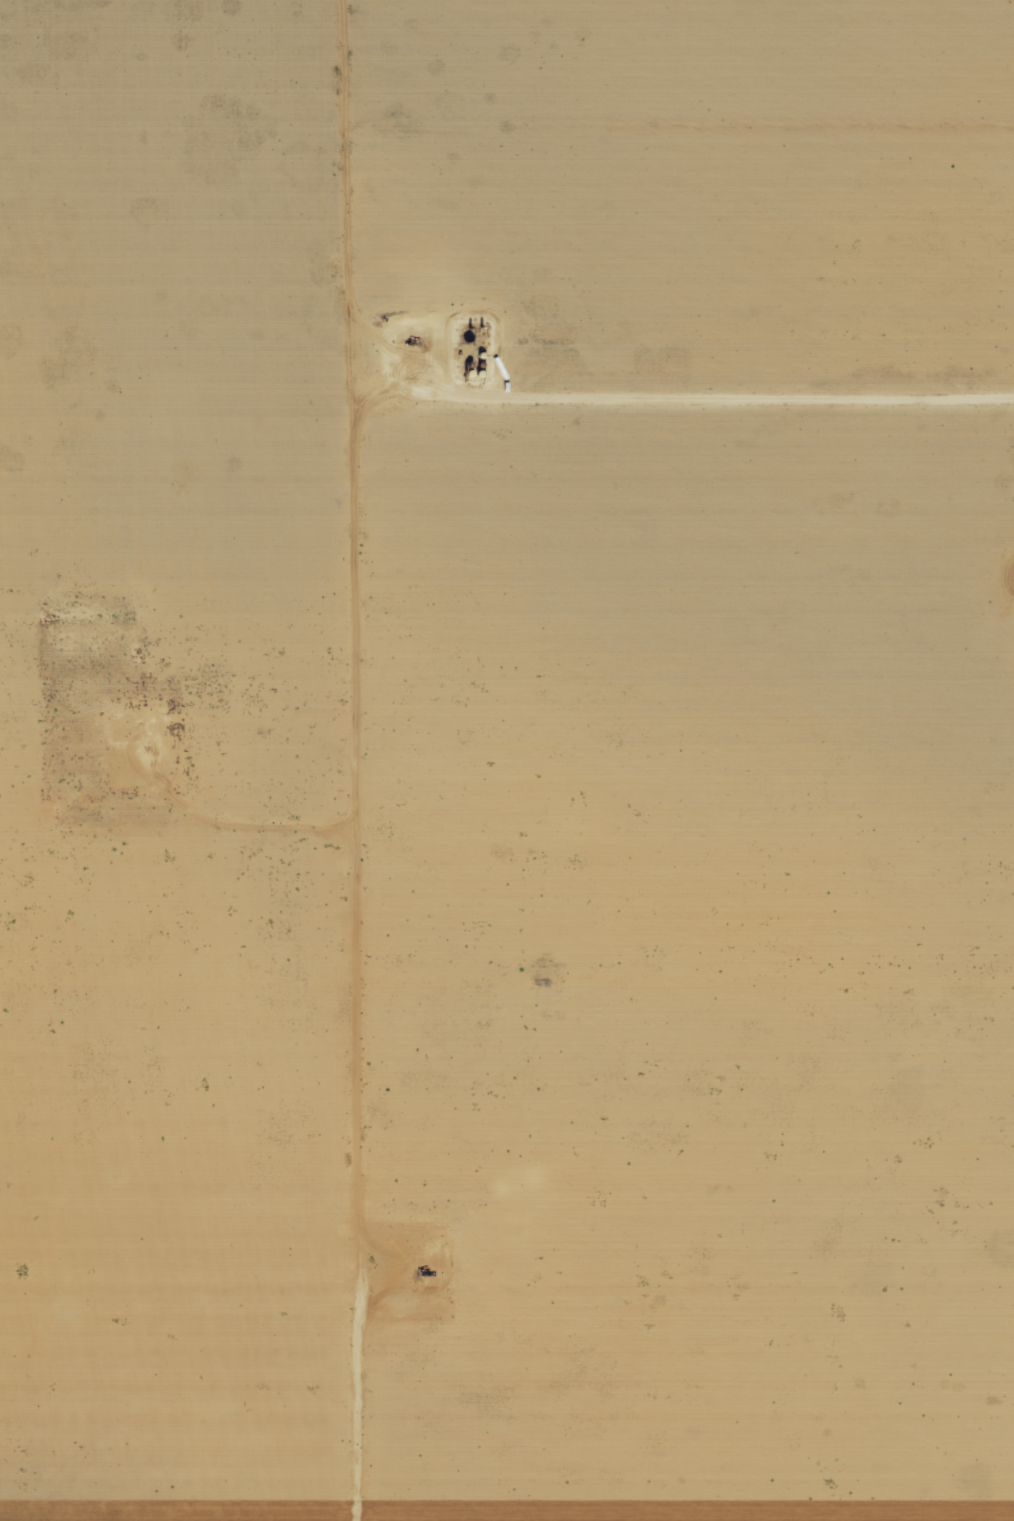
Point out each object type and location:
road: (461, 420)
road: (354, 971)

